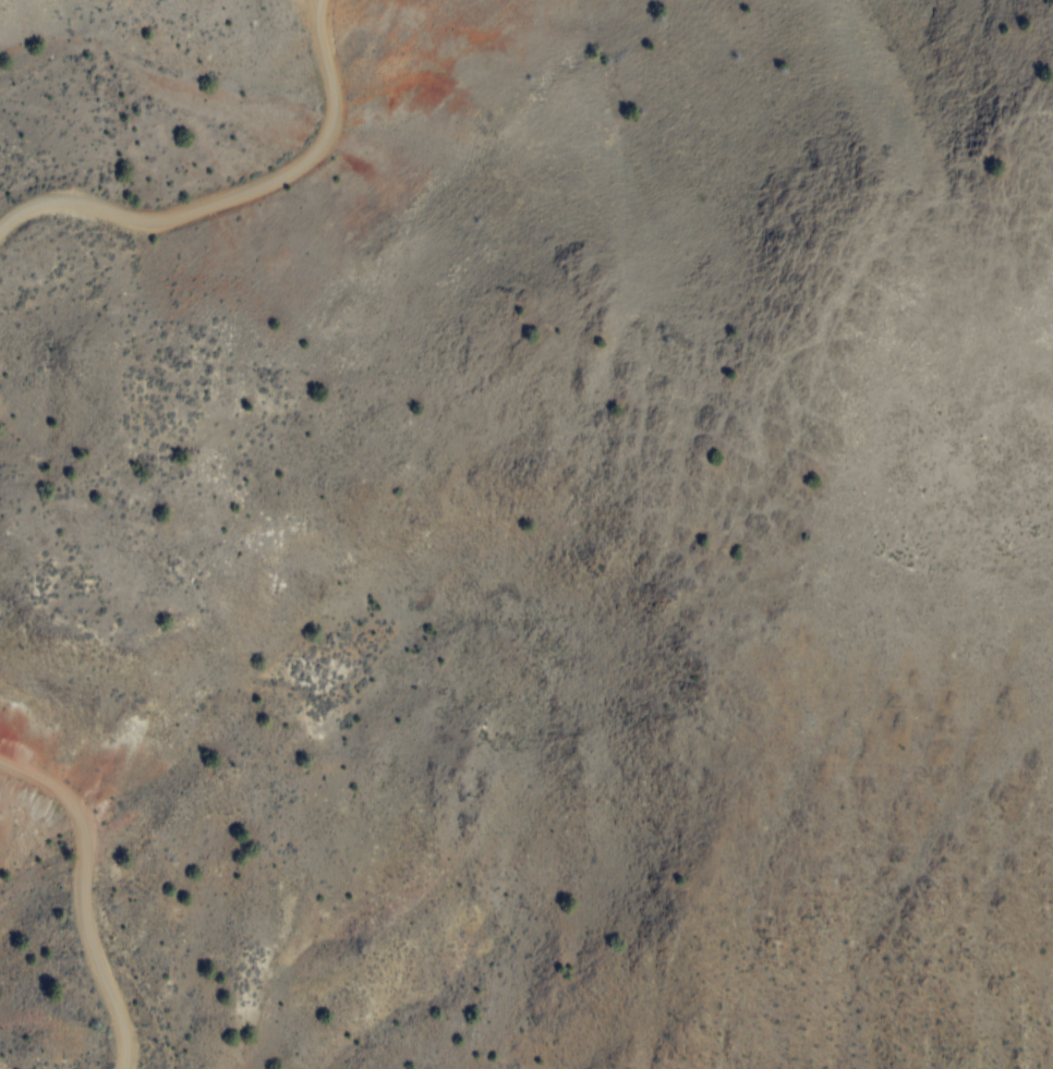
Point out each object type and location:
road: (235, 194)
road: (85, 896)

